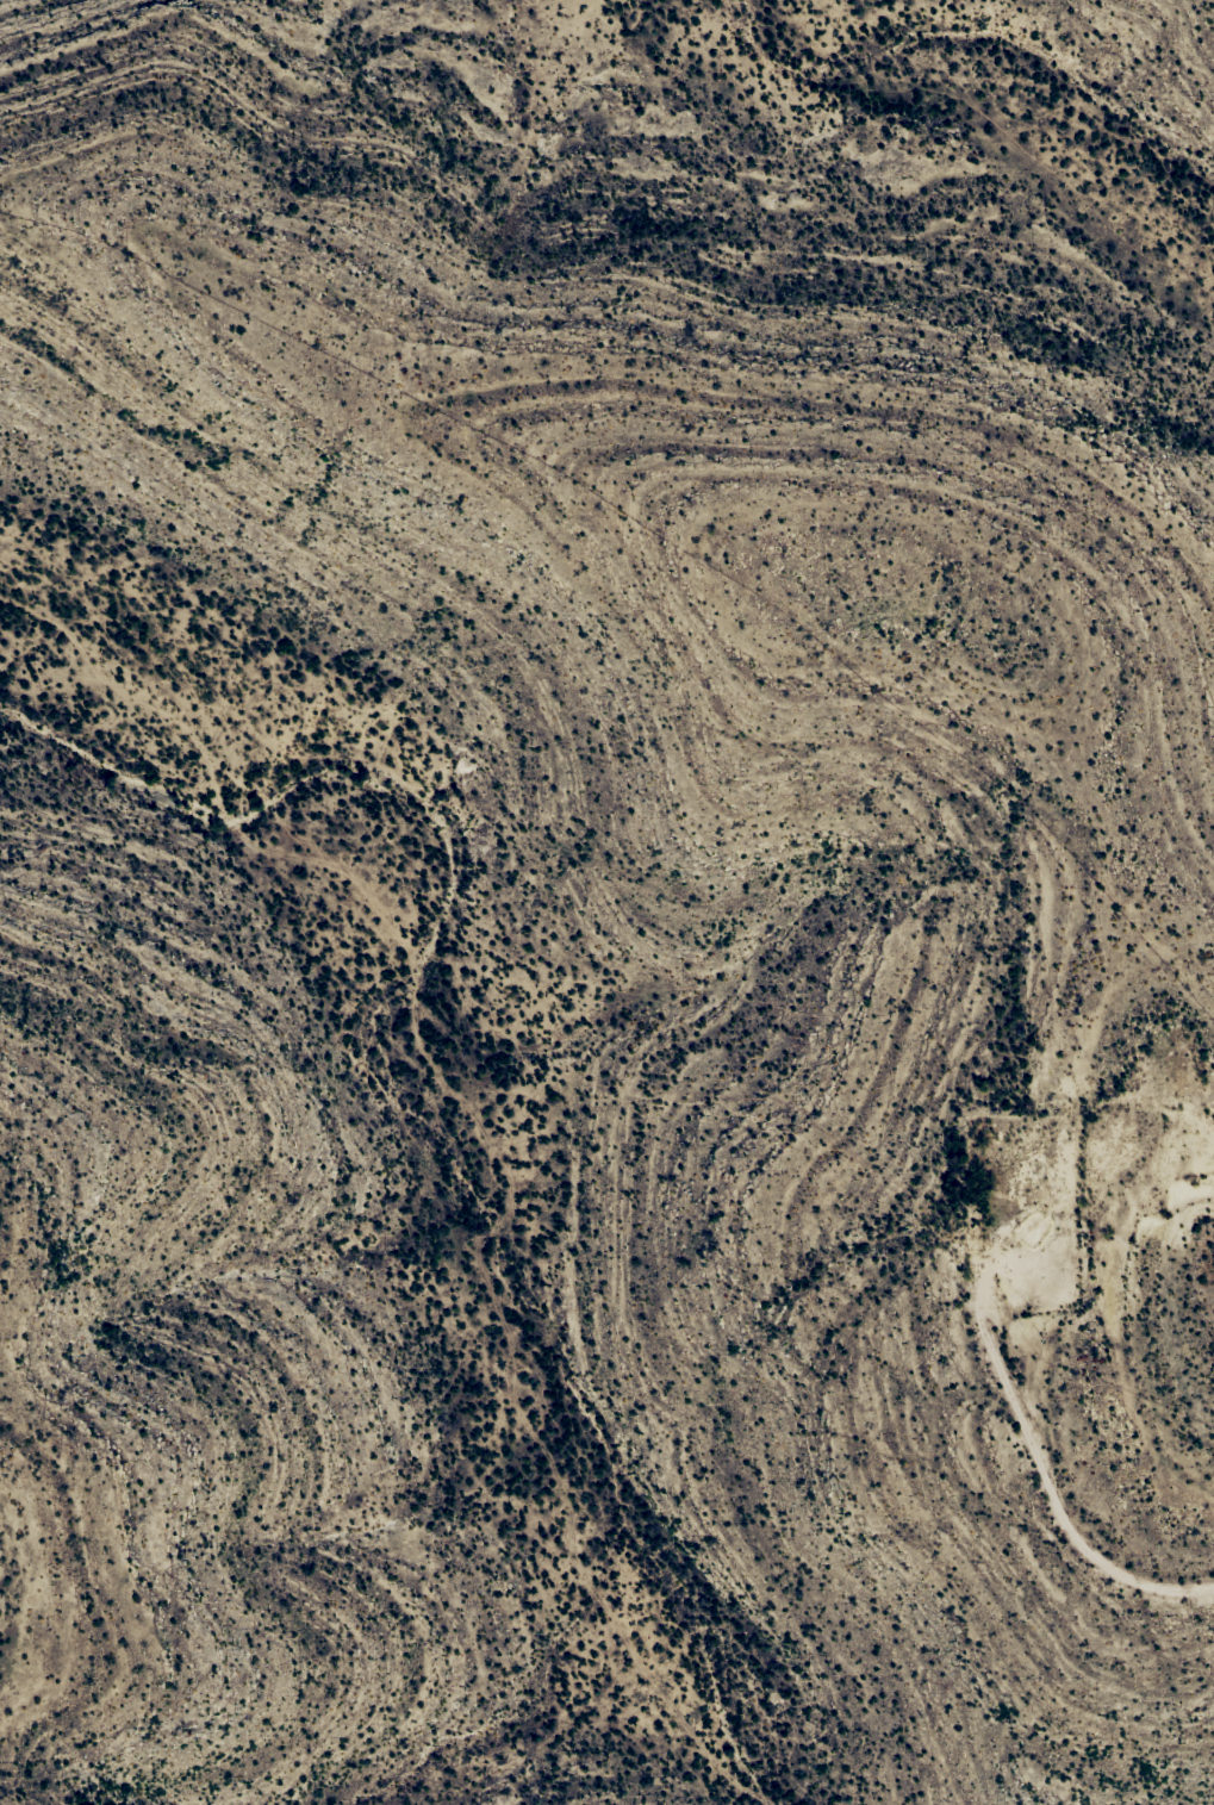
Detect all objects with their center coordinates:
road: (1013, 1560)

